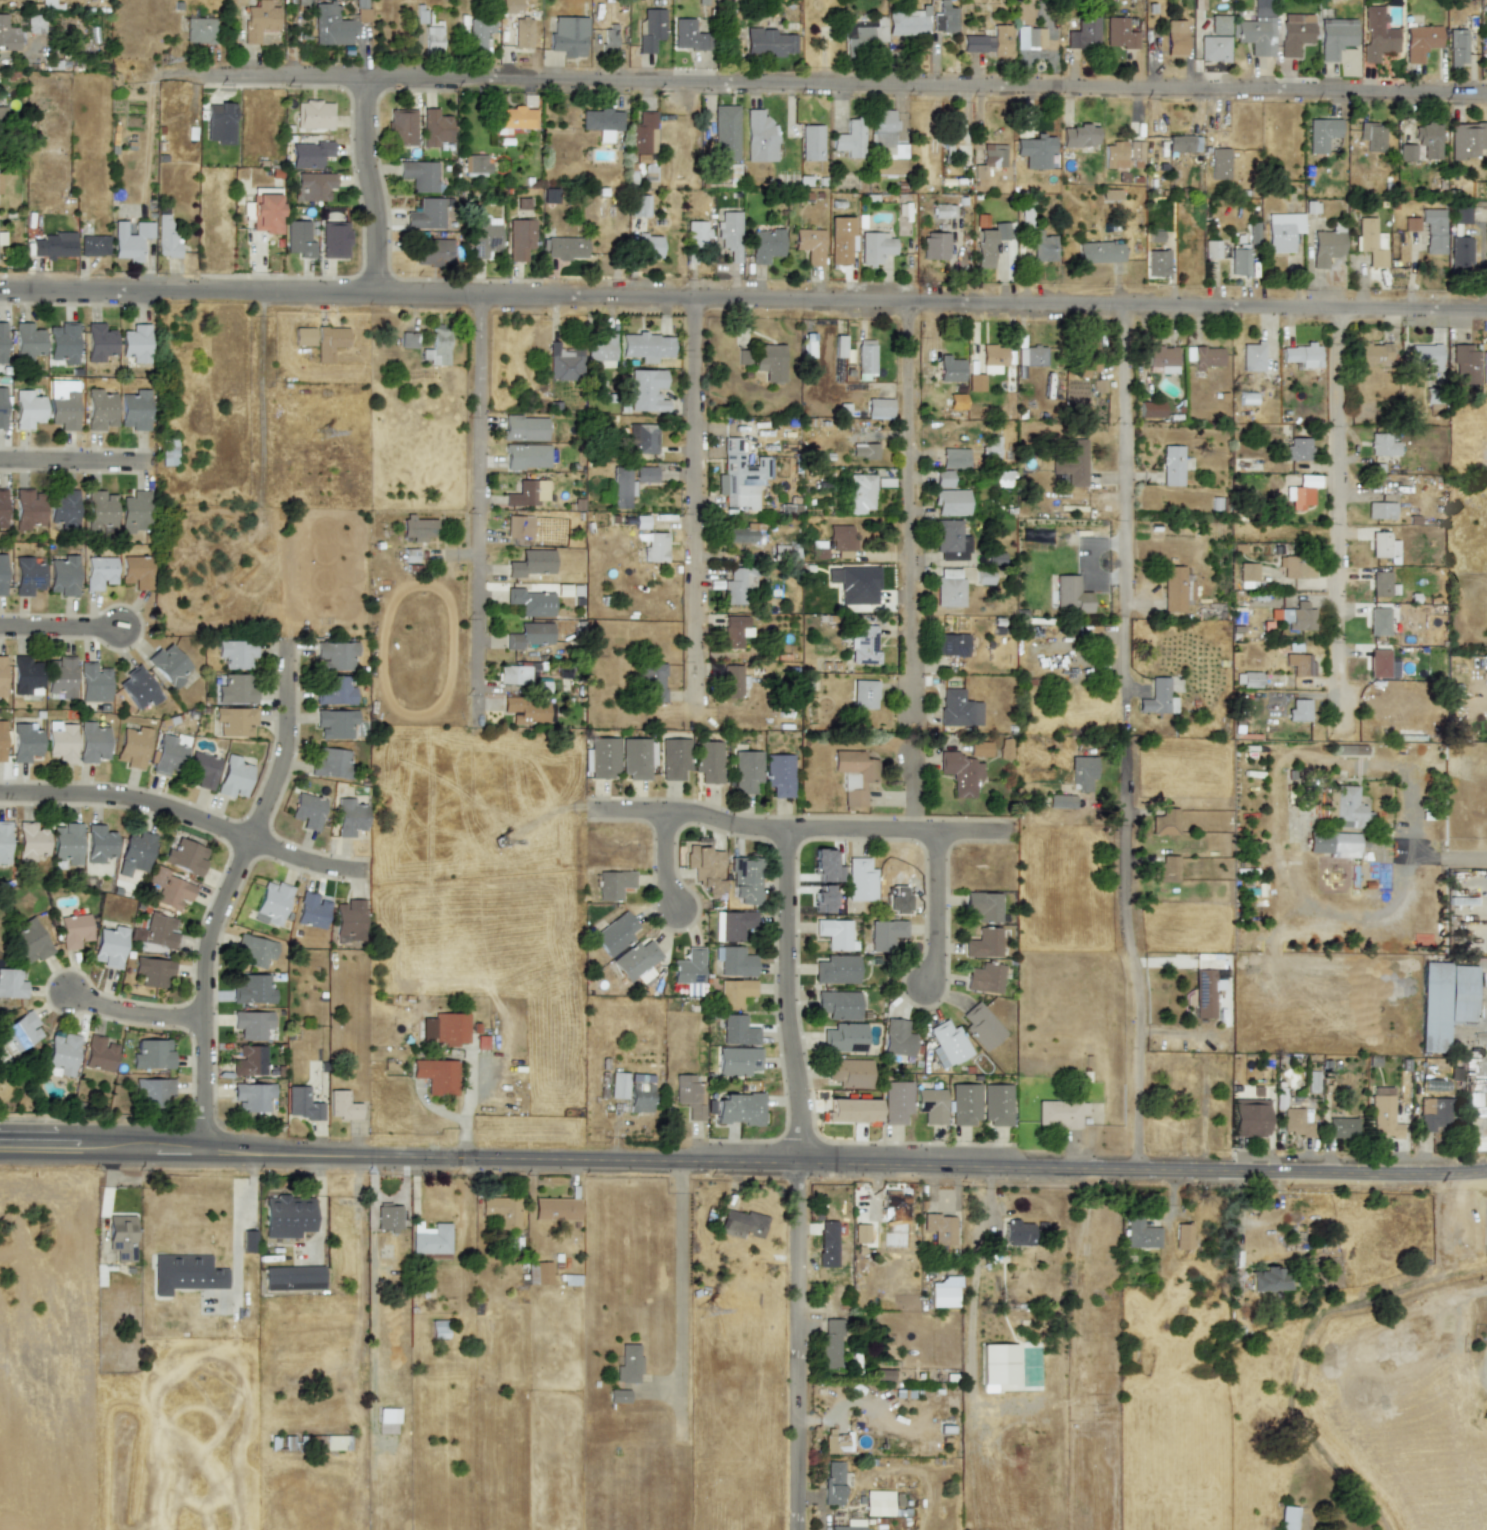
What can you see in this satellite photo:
building: (510, 6)
building: (944, 18)
building: (259, 20)
building: (908, 22)
building: (35, 23)
building: (1220, 24)
building: (331, 26)
building: (650, 29)
building: (1258, 29)
building: (199, 30)
building: (478, 31)
building: (522, 32)
building: (1295, 32)
building: (864, 33)
building: (1119, 33)
building: (1084, 34)
building: (8, 35)
building: (688, 35)
building: (1376, 35)
building: (568, 36)
building: (1335, 36)
building: (1175, 37)
building: (1030, 38)
building: (433, 39)
building: (610, 41)
building: (1001, 41)
building: (1420, 41)
building: (769, 42)
building: (977, 43)
building: (1457, 47)
building: (1214, 48)
power tower: (171, 63)
road: (851, 84)
building: (2, 113)
building: (314, 114)
building: (514, 119)
building: (601, 122)
building: (220, 123)
building: (401, 127)
building: (435, 128)
building: (642, 133)
building: (726, 133)
building: (1322, 134)
building: (1079, 136)
building: (1372, 136)
building: (760, 137)
building: (850, 139)
building: (1467, 139)
building: (1428, 140)
building: (811, 142)
building: (886, 143)
building: (1183, 143)
building: (1035, 151)
building: (1135, 151)
building: (1407, 152)
building: (309, 154)
building: (993, 155)
building: (1115, 155)
building: (1219, 164)
building: (476, 165)
building: (419, 175)
building: (313, 186)
road: (367, 186)
building: (1110, 193)
building: (550, 195)
building: (639, 206)
building: (266, 210)
building: (943, 210)
building: (426, 214)
building: (1462, 215)
building: (1411, 224)
building: (1001, 230)
building: (1433, 230)
building: (1282, 231)
building: (697, 233)
building: (730, 234)
building: (166, 237)
building: (484, 237)
building: (2, 238)
building: (299, 238)
building: (335, 239)
building: (520, 239)
building: (841, 239)
building: (130, 240)
building: (1371, 242)
building: (54, 245)
building: (94, 245)
building: (766, 245)
building: (810, 245)
building: (1327, 245)
building: (935, 246)
building: (1042, 246)
building: (875, 247)
building: (566, 248)
building: (984, 248)
building: (1212, 249)
building: (434, 251)
building: (1100, 252)
building: (1460, 254)
building: (1239, 261)
building: (1156, 264)
road: (743, 298)
building: (303, 336)
building: (408, 340)
building: (27, 341)
building: (2, 342)
building: (98, 342)
building: (329, 342)
building: (63, 343)
building: (135, 343)
building: (437, 346)
building: (646, 346)
building: (839, 346)
building: (601, 349)
building: (1373, 354)
building: (1031, 355)
building: (1302, 355)
building: (1426, 355)
building: (866, 356)
building: (743, 357)
building: (1203, 357)
building: (1252, 357)
building: (993, 358)
building: (1162, 358)
building: (770, 362)
building: (563, 363)
building: (1464, 364)
building: (1484, 364)
building: (1086, 365)
building: (950, 369)
building: (976, 382)
building: (646, 390)
building: (2, 407)
building: (879, 408)
building: (27, 409)
building: (1150, 409)
building: (63, 410)
building: (99, 410)
building: (134, 410)
building: (524, 428)
building: (642, 438)
building: (1382, 445)
building: (990, 447)
building: (1298, 448)
building: (864, 450)
building: (168, 452)
power tower: (336, 452)
building: (527, 456)
building: (955, 458)
road: (1125, 460)
road: (77, 461)
building: (1072, 462)
building: (1172, 465)
building: (645, 474)
building: (741, 476)
building: (942, 479)
building: (621, 486)
building: (1302, 492)
building: (528, 493)
building: (861, 493)
building: (950, 502)
building: (2, 508)
building: (63, 508)
building: (28, 509)
building: (1380, 510)
building: (100, 511)
building: (134, 511)
road: (478, 513)
road: (695, 515)
road: (910, 518)
road: (1340, 525)
building: (519, 527)
building: (418, 528)
building: (740, 534)
building: (842, 539)
building: (951, 541)
building: (1383, 546)
building: (656, 547)
building: (531, 563)
building: (1296, 566)
building: (136, 571)
building: (99, 572)
building: (2, 573)
building: (62, 575)
building: (1248, 575)
building: (27, 576)
building: (1380, 583)
building: (739, 584)
building: (855, 584)
building: (949, 588)
building: (1173, 589)
building: (1068, 594)
building: (531, 602)
building: (1298, 617)
building: (1378, 621)
road: (60, 630)
building: (735, 631)
building: (529, 635)
building: (951, 644)
building: (863, 645)
building: (236, 653)
building: (335, 655)
building: (1379, 663)
building: (169, 664)
building: (1299, 664)
road: (1123, 666)
building: (514, 674)
building: (1, 675)
building: (25, 676)
building: (60, 676)
building: (1247, 679)
building: (731, 681)
building: (93, 682)
building: (653, 683)
building: (138, 688)
building: (235, 690)
building: (333, 690)
building: (864, 694)
building: (1156, 697)
building: (526, 709)
building: (958, 709)
building: (1299, 710)
building: (235, 721)
building: (335, 723)
building: (1, 740)
building: (61, 741)
building: (25, 742)
building: (92, 742)
building: (133, 747)
building: (1005, 748)
building: (979, 749)
building: (1351, 750)
building: (168, 755)
building: (636, 758)
building: (674, 758)
building: (708, 761)
building: (330, 762)
building: (202, 769)
building: (747, 772)
building: (960, 773)
building: (1081, 773)
building: (779, 774)
building: (854, 775)
building: (234, 777)
road: (911, 792)
building: (1061, 801)
building: (1346, 807)
building: (308, 810)
building: (349, 817)
road: (188, 819)
building: (1165, 822)
road: (800, 830)
building: (30, 841)
power tower: (501, 841)
building: (4, 842)
building: (1332, 842)
building: (66, 843)
building: (98, 843)
building: (137, 849)
road: (1401, 855)
building: (185, 856)
road: (665, 862)
building: (825, 866)
building: (705, 868)
building: (1165, 870)
building: (744, 880)
building: (860, 880)
building: (614, 884)
building: (168, 888)
road: (228, 891)
building: (823, 899)
building: (271, 903)
building: (983, 906)
building: (312, 910)
road: (939, 911)
building: (349, 921)
building: (731, 924)
building: (74, 930)
building: (156, 932)
building: (834, 933)
building: (615, 934)
building: (885, 934)
building: (30, 941)
building: (983, 943)
building: (109, 946)
building: (254, 950)
building: (636, 961)
building: (734, 961)
road: (1133, 962)
building: (836, 969)
building: (153, 971)
building: (689, 971)
building: (984, 978)
building: (11, 984)
building: (252, 989)
building: (735, 993)
building: (1202, 993)
building: (1445, 1001)
building: (837, 1005)
road: (133, 1012)
building: (252, 1024)
building: (981, 1026)
building: (450, 1028)
building: (738, 1031)
building: (19, 1033)
building: (843, 1038)
building: (896, 1038)
building: (947, 1044)
building: (62, 1053)
building: (99, 1053)
building: (152, 1054)
building: (250, 1061)
building: (738, 1061)
building: (849, 1072)
building: (437, 1076)
building: (618, 1085)
building: (154, 1091)
building: (640, 1093)
building: (688, 1095)
building: (252, 1096)
road: (469, 1097)
building: (896, 1102)
building: (302, 1104)
building: (964, 1104)
building: (996, 1104)
building: (930, 1105)
building: (342, 1106)
building: (738, 1109)
building: (850, 1110)
building: (1060, 1113)
building: (1383, 1113)
building: (1434, 1114)
building: (1250, 1117)
building: (1295, 1122)
building: (1342, 1127)
road: (102, 1150)
road: (845, 1167)
road: (800, 1179)
building: (896, 1204)
building: (556, 1209)
building: (502, 1211)
building: (287, 1216)
building: (388, 1217)
building: (741, 1224)
building: (940, 1228)
building: (1017, 1232)
building: (861, 1233)
building: (1140, 1233)
building: (121, 1236)
building: (1183, 1236)
building: (430, 1241)
building: (827, 1243)
building: (185, 1273)
building: (539, 1273)
building: (293, 1277)
building: (1268, 1280)
building: (944, 1292)
power tower: (696, 1293)
road: (683, 1299)
building: (438, 1329)
building: (830, 1344)
building: (628, 1364)
building: (998, 1366)
building: (882, 1374)
building: (618, 1396)
building: (388, 1415)
building: (837, 1442)
building: (833, 1483)
building: (878, 1503)
building: (1287, 1518)
building: (850, 1525)

